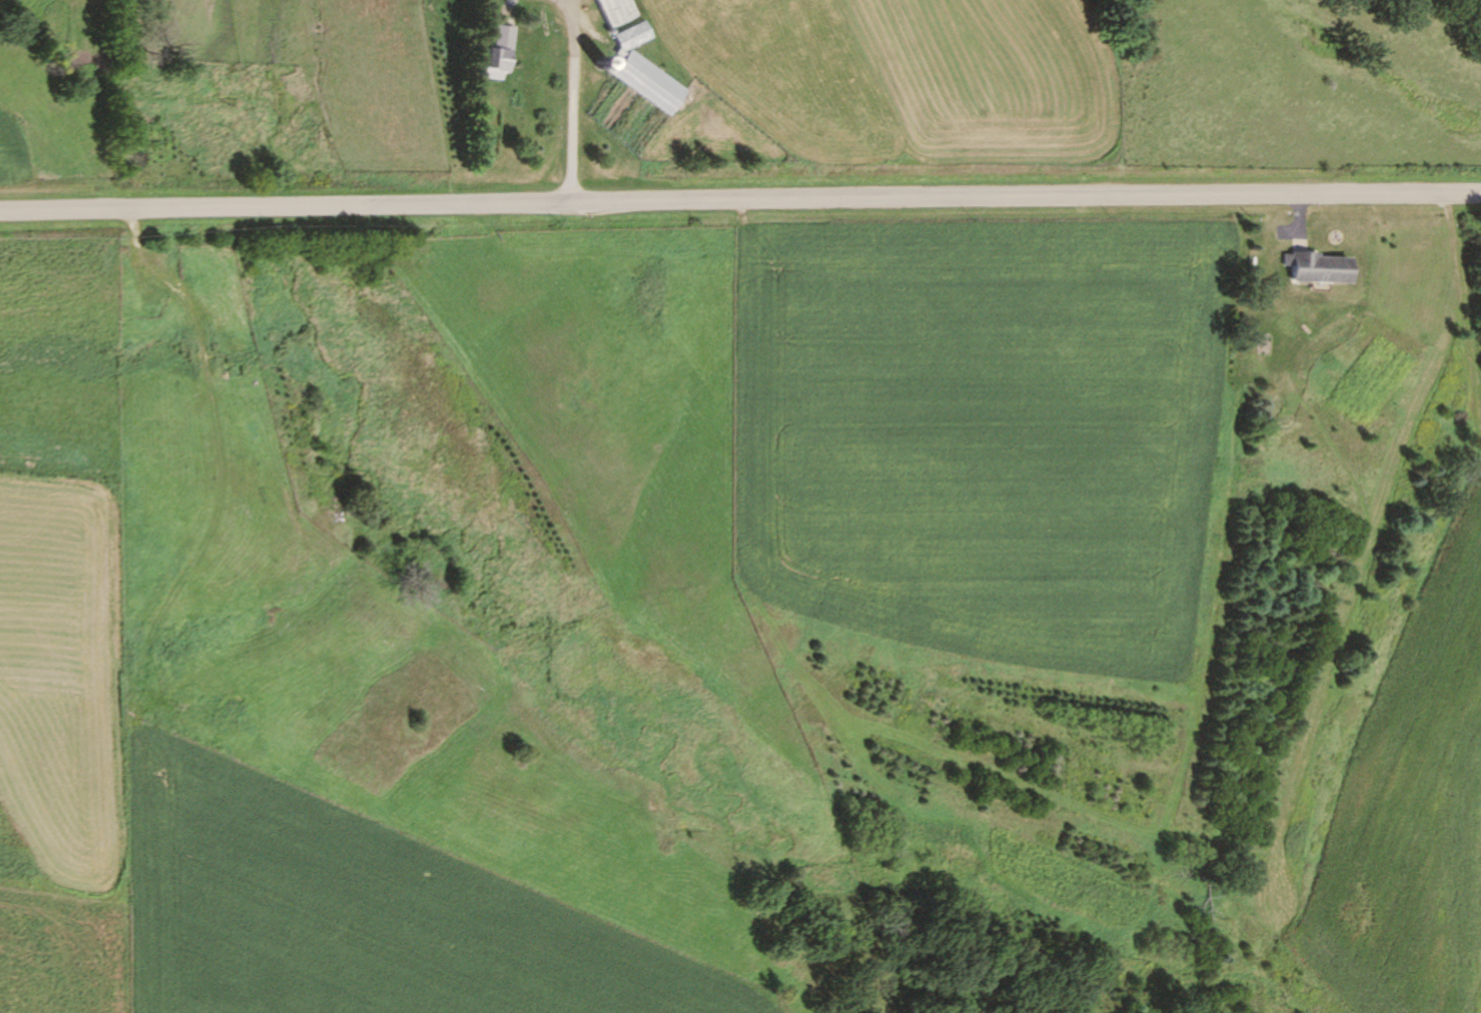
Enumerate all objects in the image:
building: (608, 12)
building: (492, 54)
building: (637, 72)
road: (568, 101)
road: (740, 201)
building: (1312, 269)

